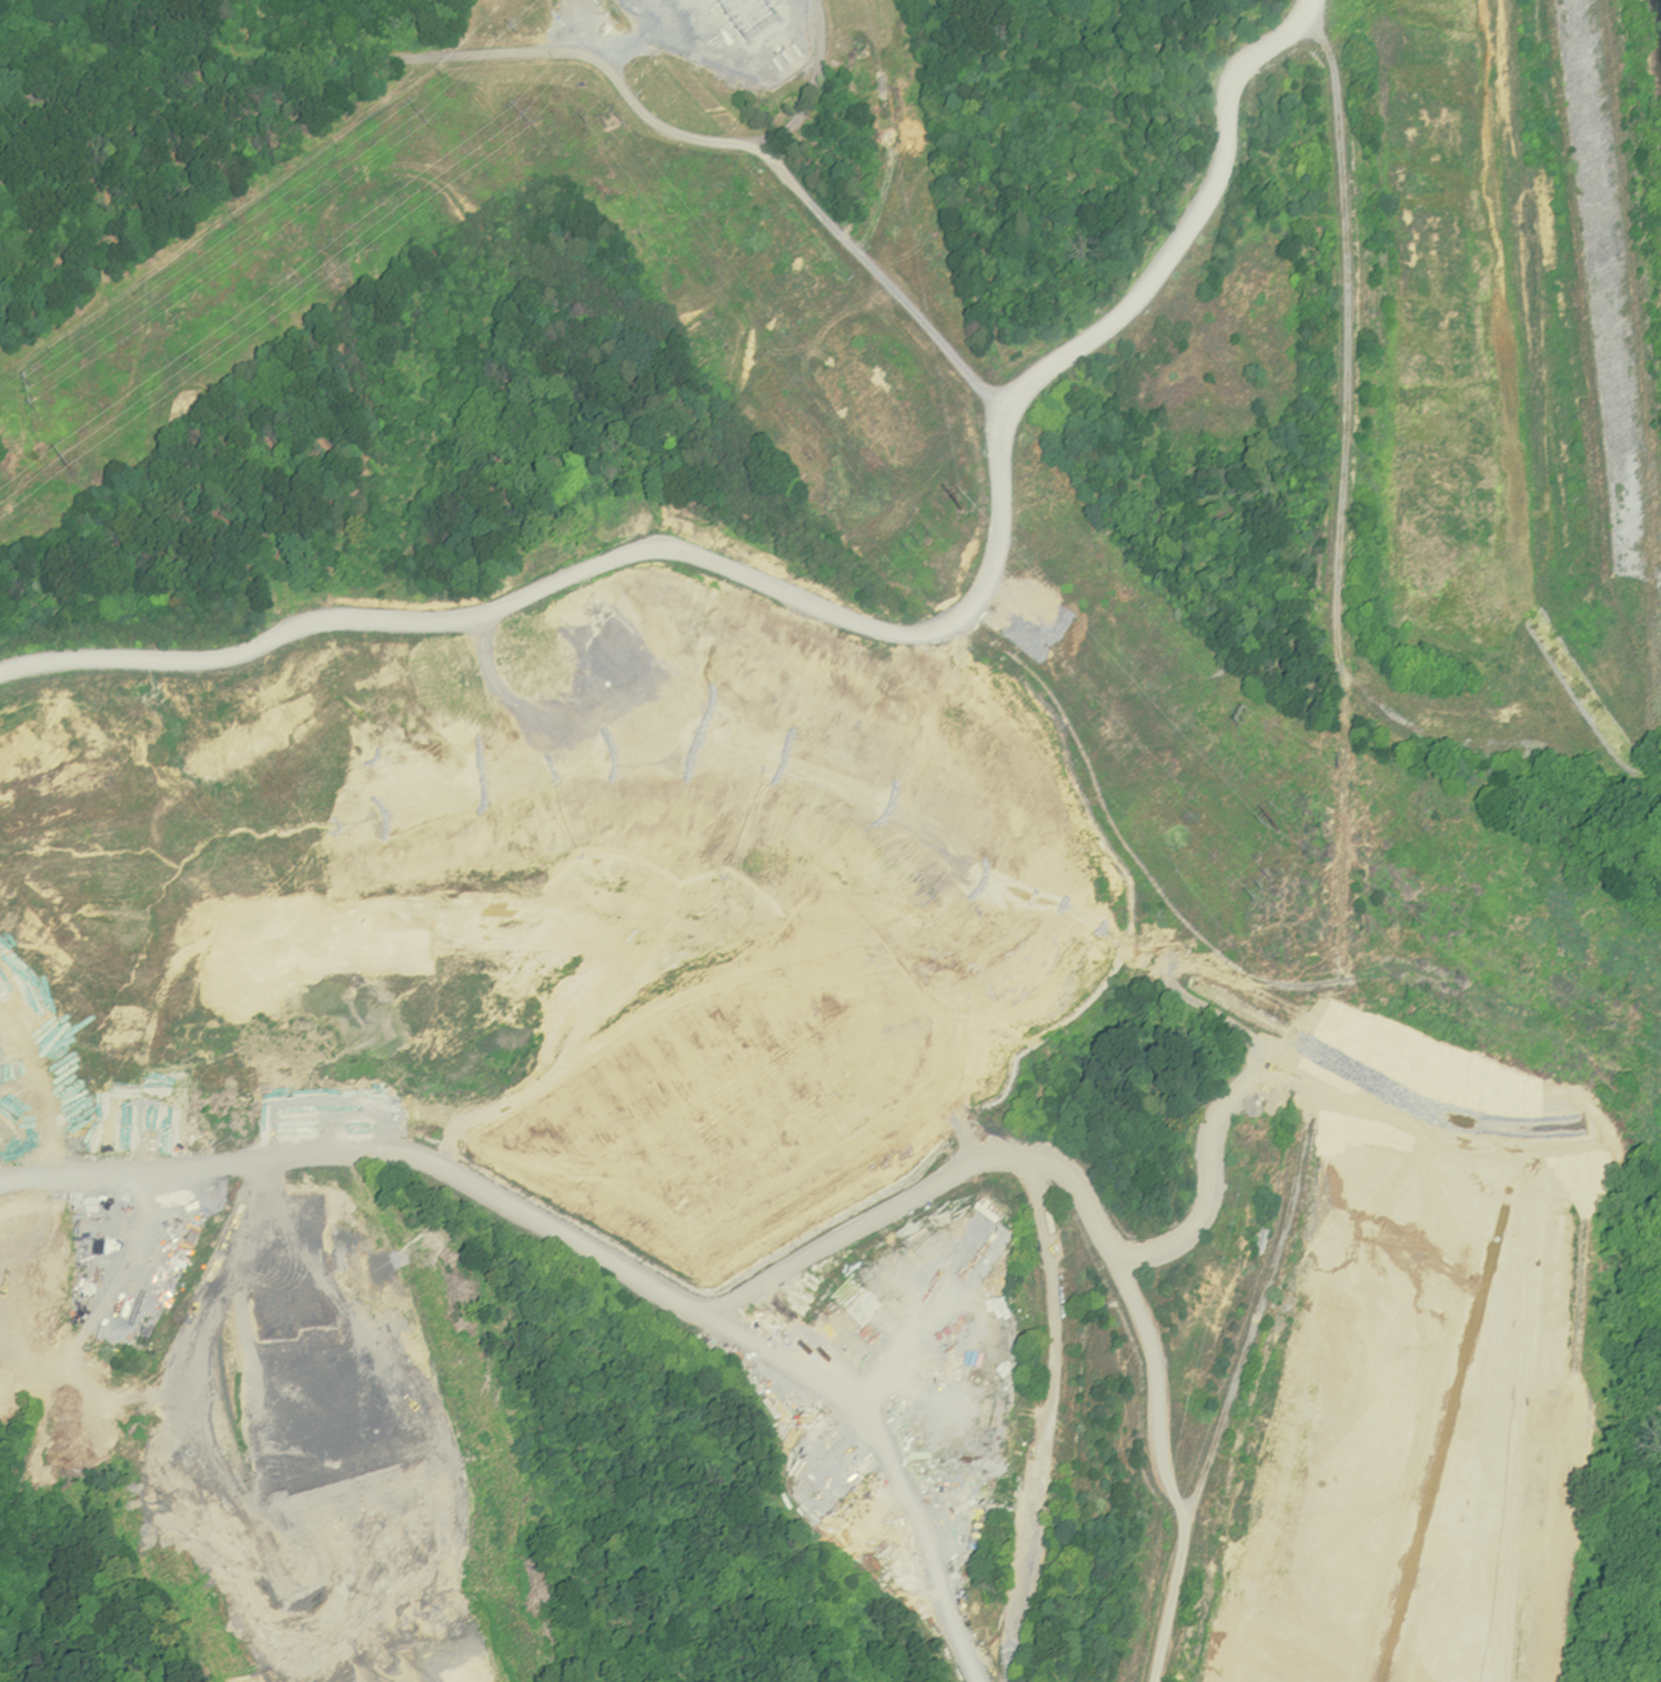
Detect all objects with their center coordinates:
power substation: (729, 33)
power tower: (519, 36)
road: (575, 53)
road: (815, 85)
power tower: (425, 120)
power tower: (530, 123)
power tower: (608, 125)
road: (1190, 222)
power tower: (33, 399)
power tower: (67, 464)
road: (1340, 505)
power tower: (962, 510)
power tower: (922, 545)
road: (586, 553)
power tower: (1278, 830)
power tower: (1265, 893)
road: (1229, 1021)
road: (30, 1095)
road: (1209, 1160)
road: (792, 1265)
road: (1261, 1305)
road: (1048, 1420)
road: (894, 1454)

